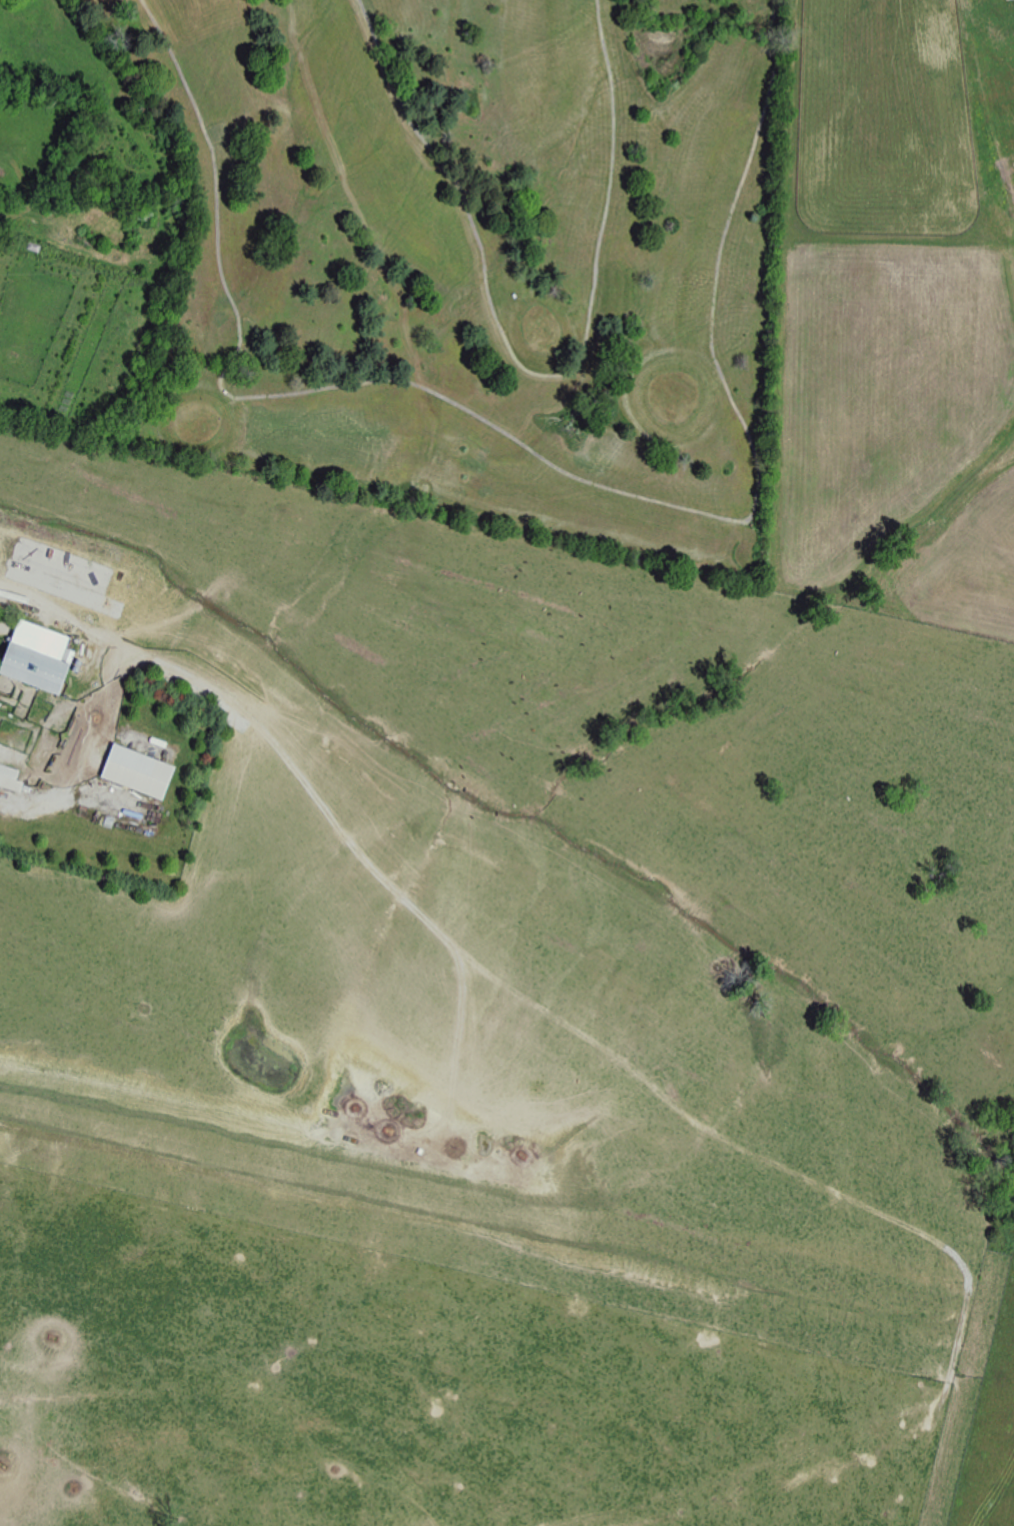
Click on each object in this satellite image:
building: (36, 656)
building: (12, 757)
building: (136, 771)
building: (9, 779)
road: (37, 804)
airport runway: (470, 1207)

